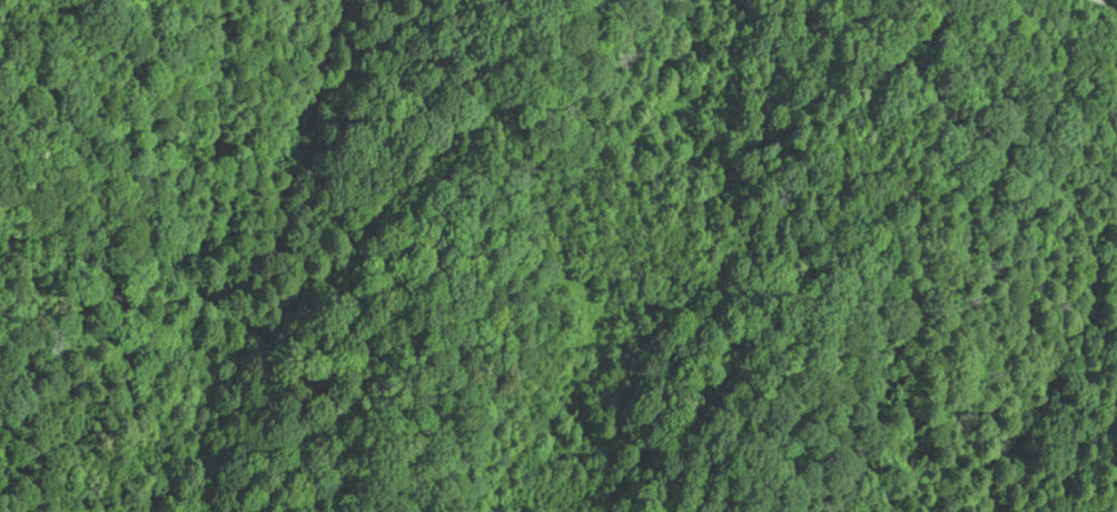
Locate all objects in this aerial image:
road: (1080, 18)

